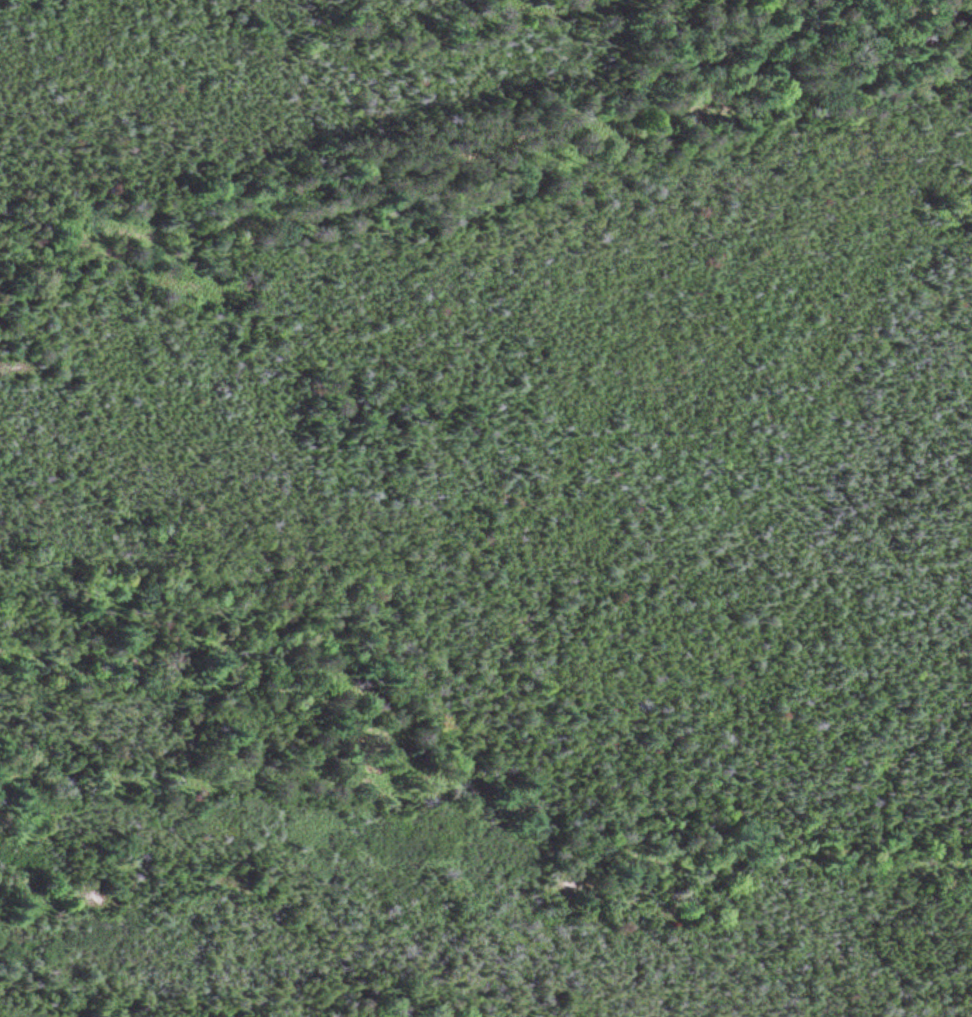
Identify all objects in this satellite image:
road: (491, 139)

